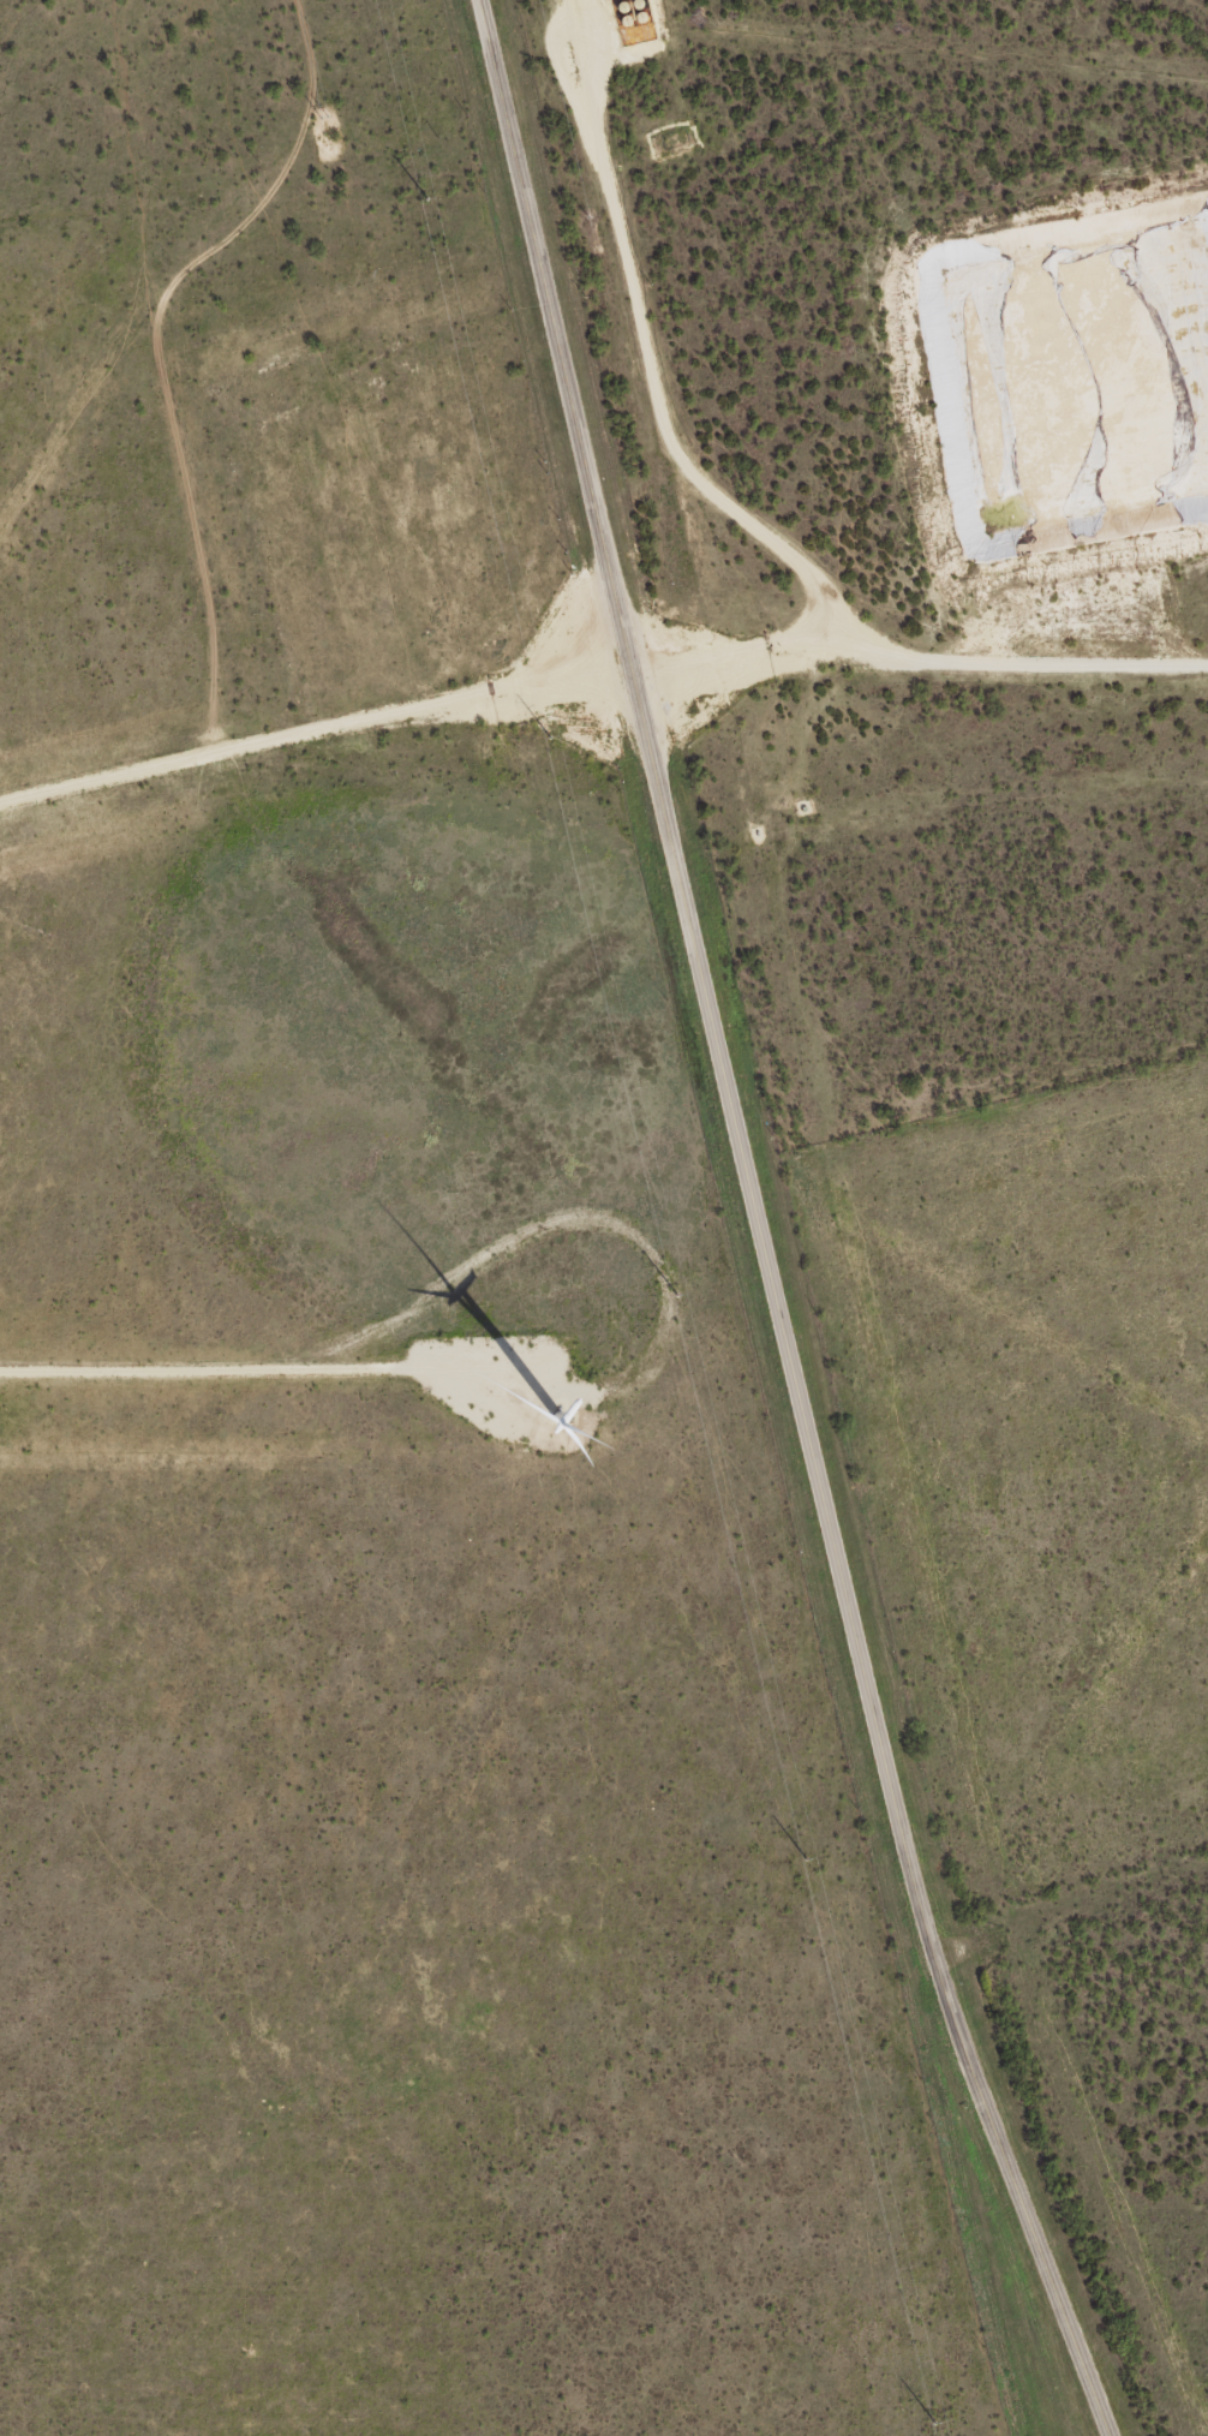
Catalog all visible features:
power tower: (424, 199)
power tower: (546, 738)
road: (757, 1228)
power tower: (674, 1297)
wind turbine: (554, 1398)
power tower: (800, 1861)
power tower: (931, 2425)

